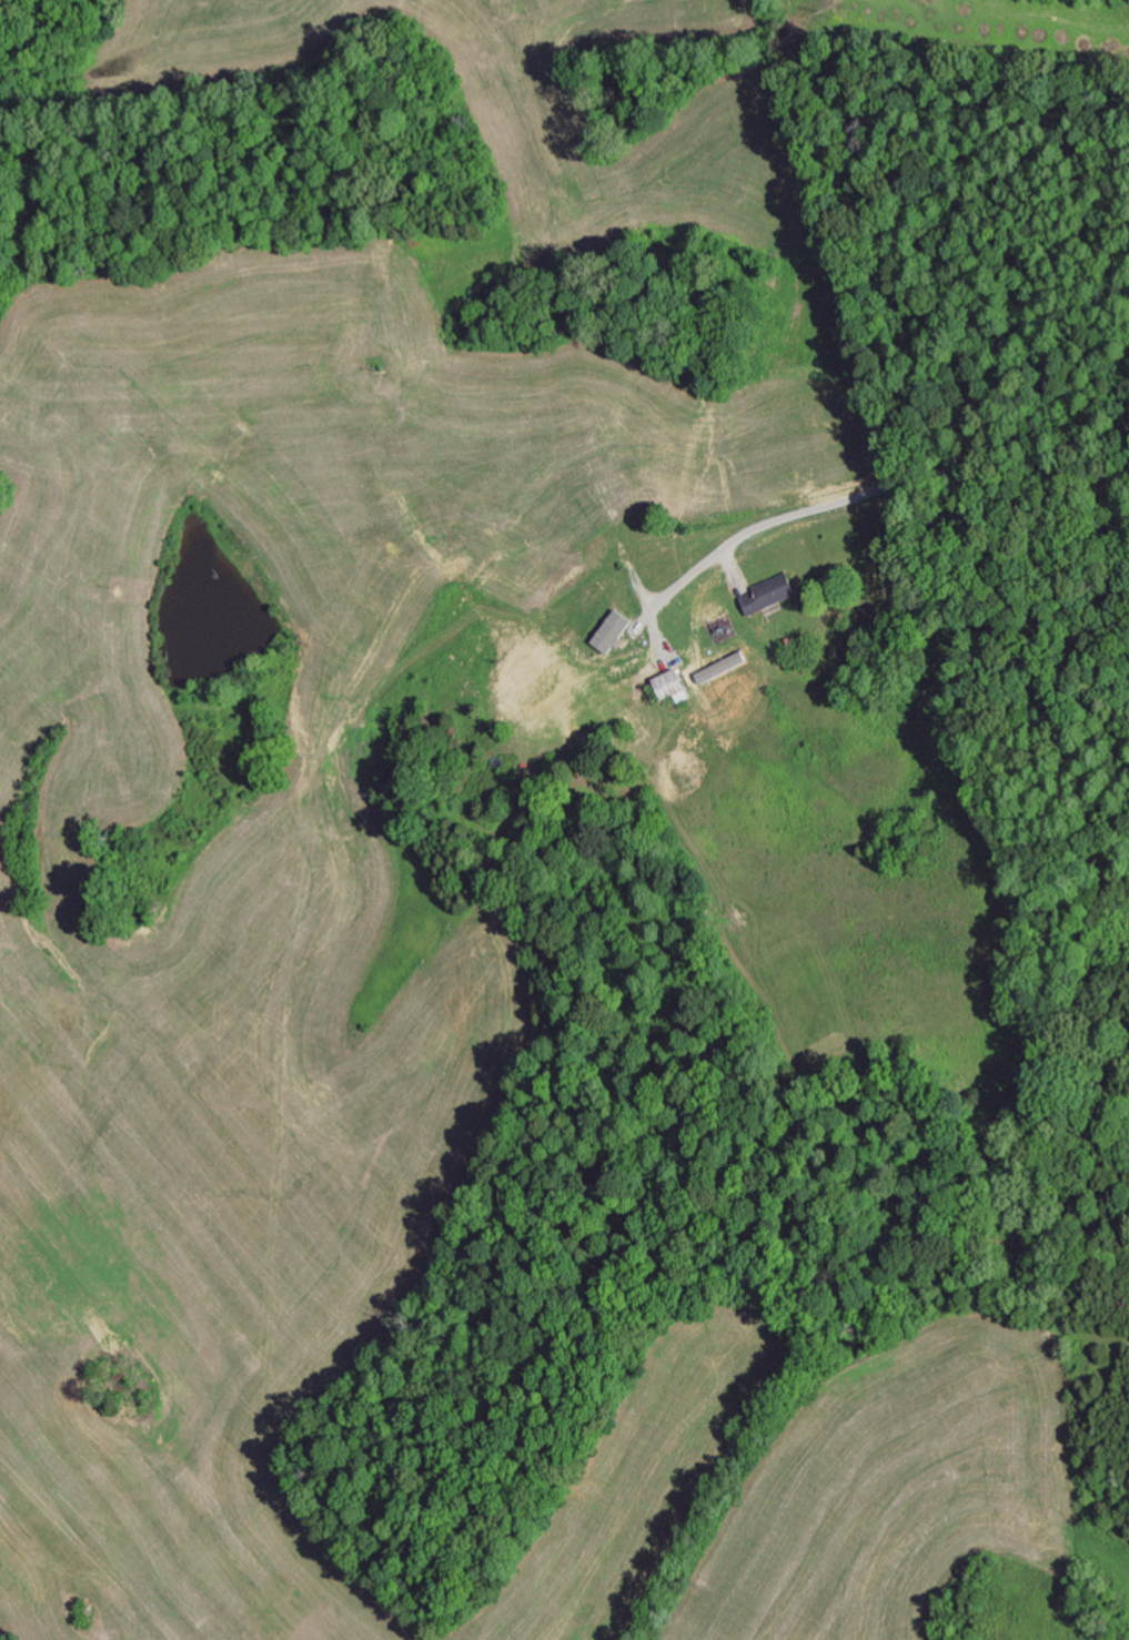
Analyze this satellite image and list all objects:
road: (883, 487)
building: (774, 593)
building: (615, 630)
building: (727, 667)

